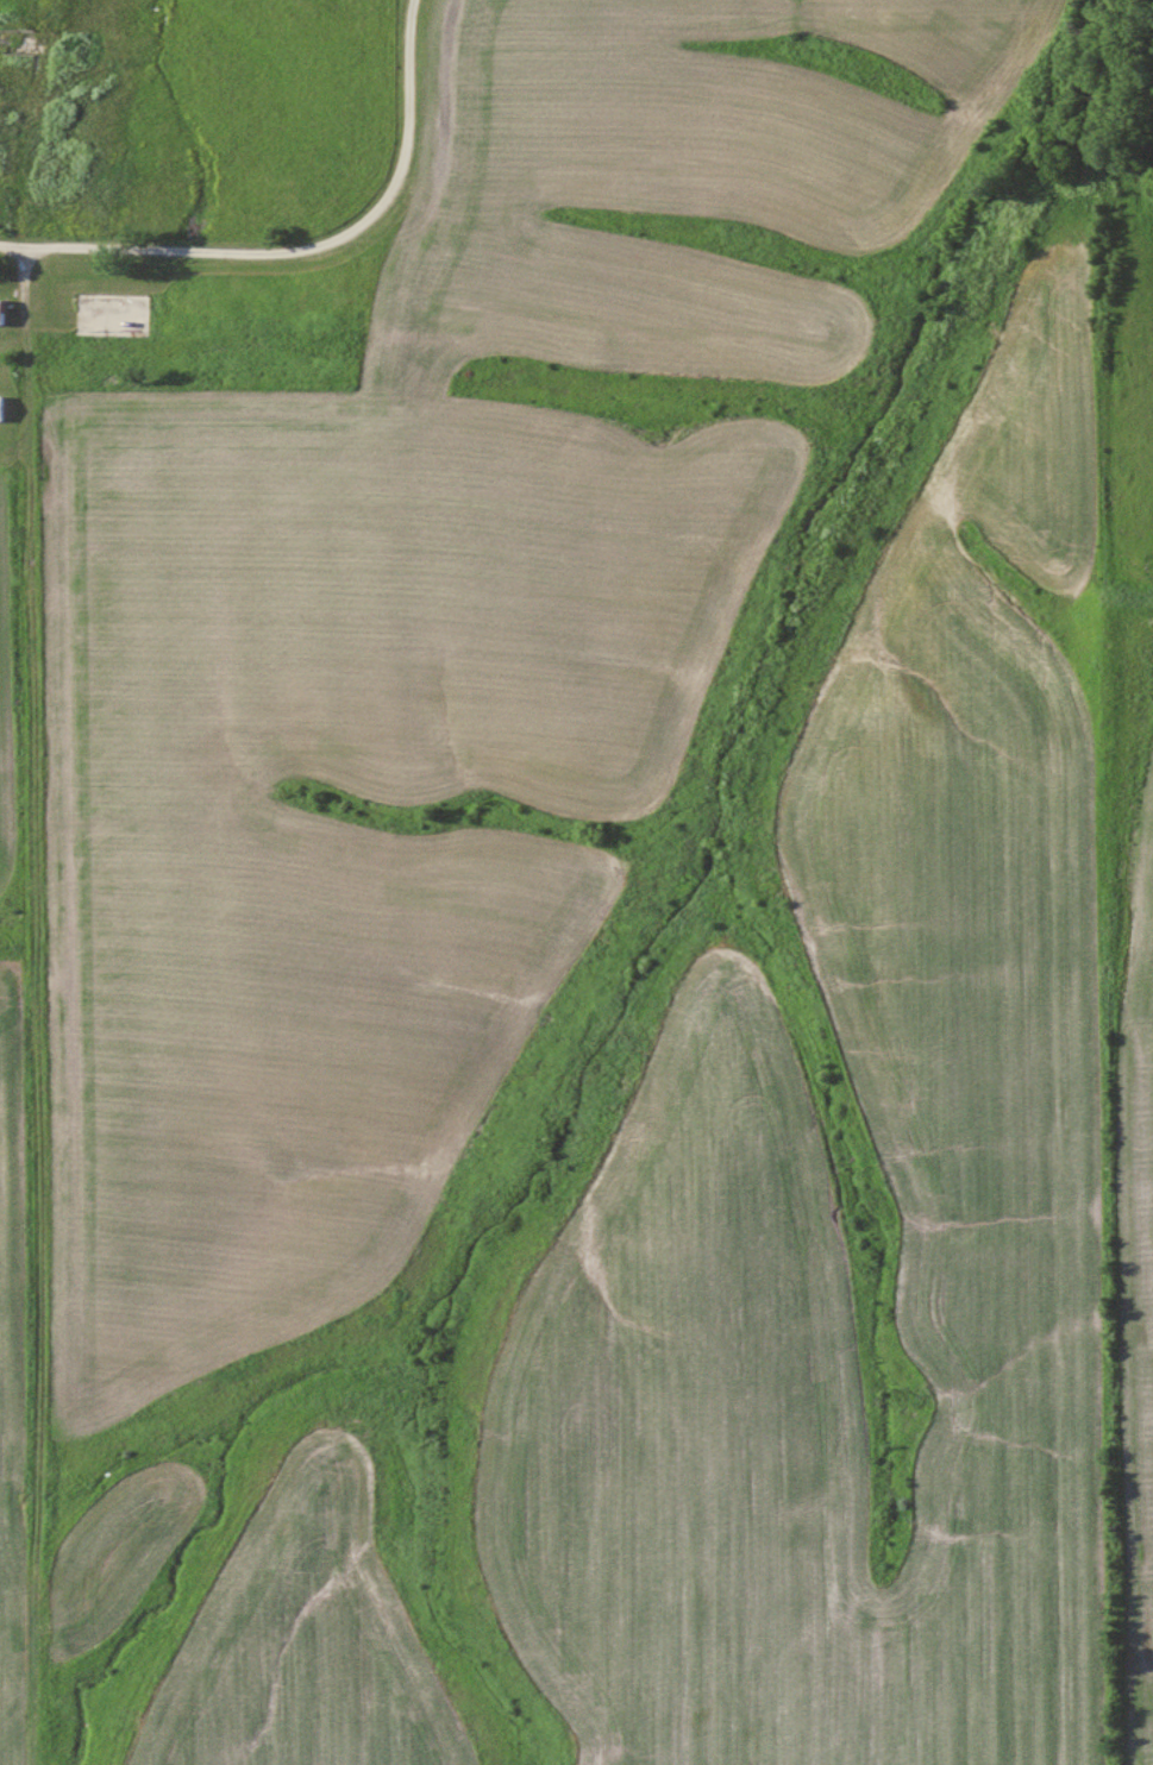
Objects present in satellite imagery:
road: (303, 246)
building: (5, 310)
building: (5, 407)

